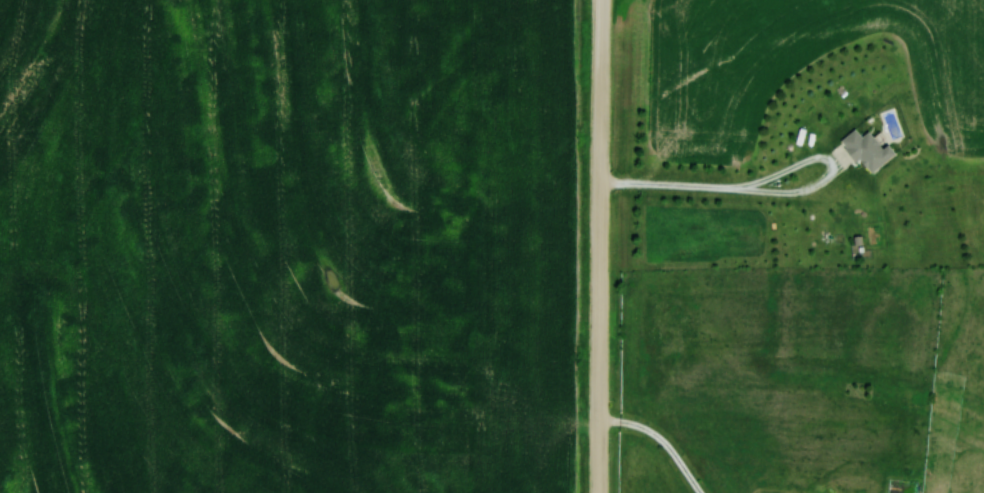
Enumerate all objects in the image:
building: (864, 150)
road: (600, 246)
road: (661, 440)

